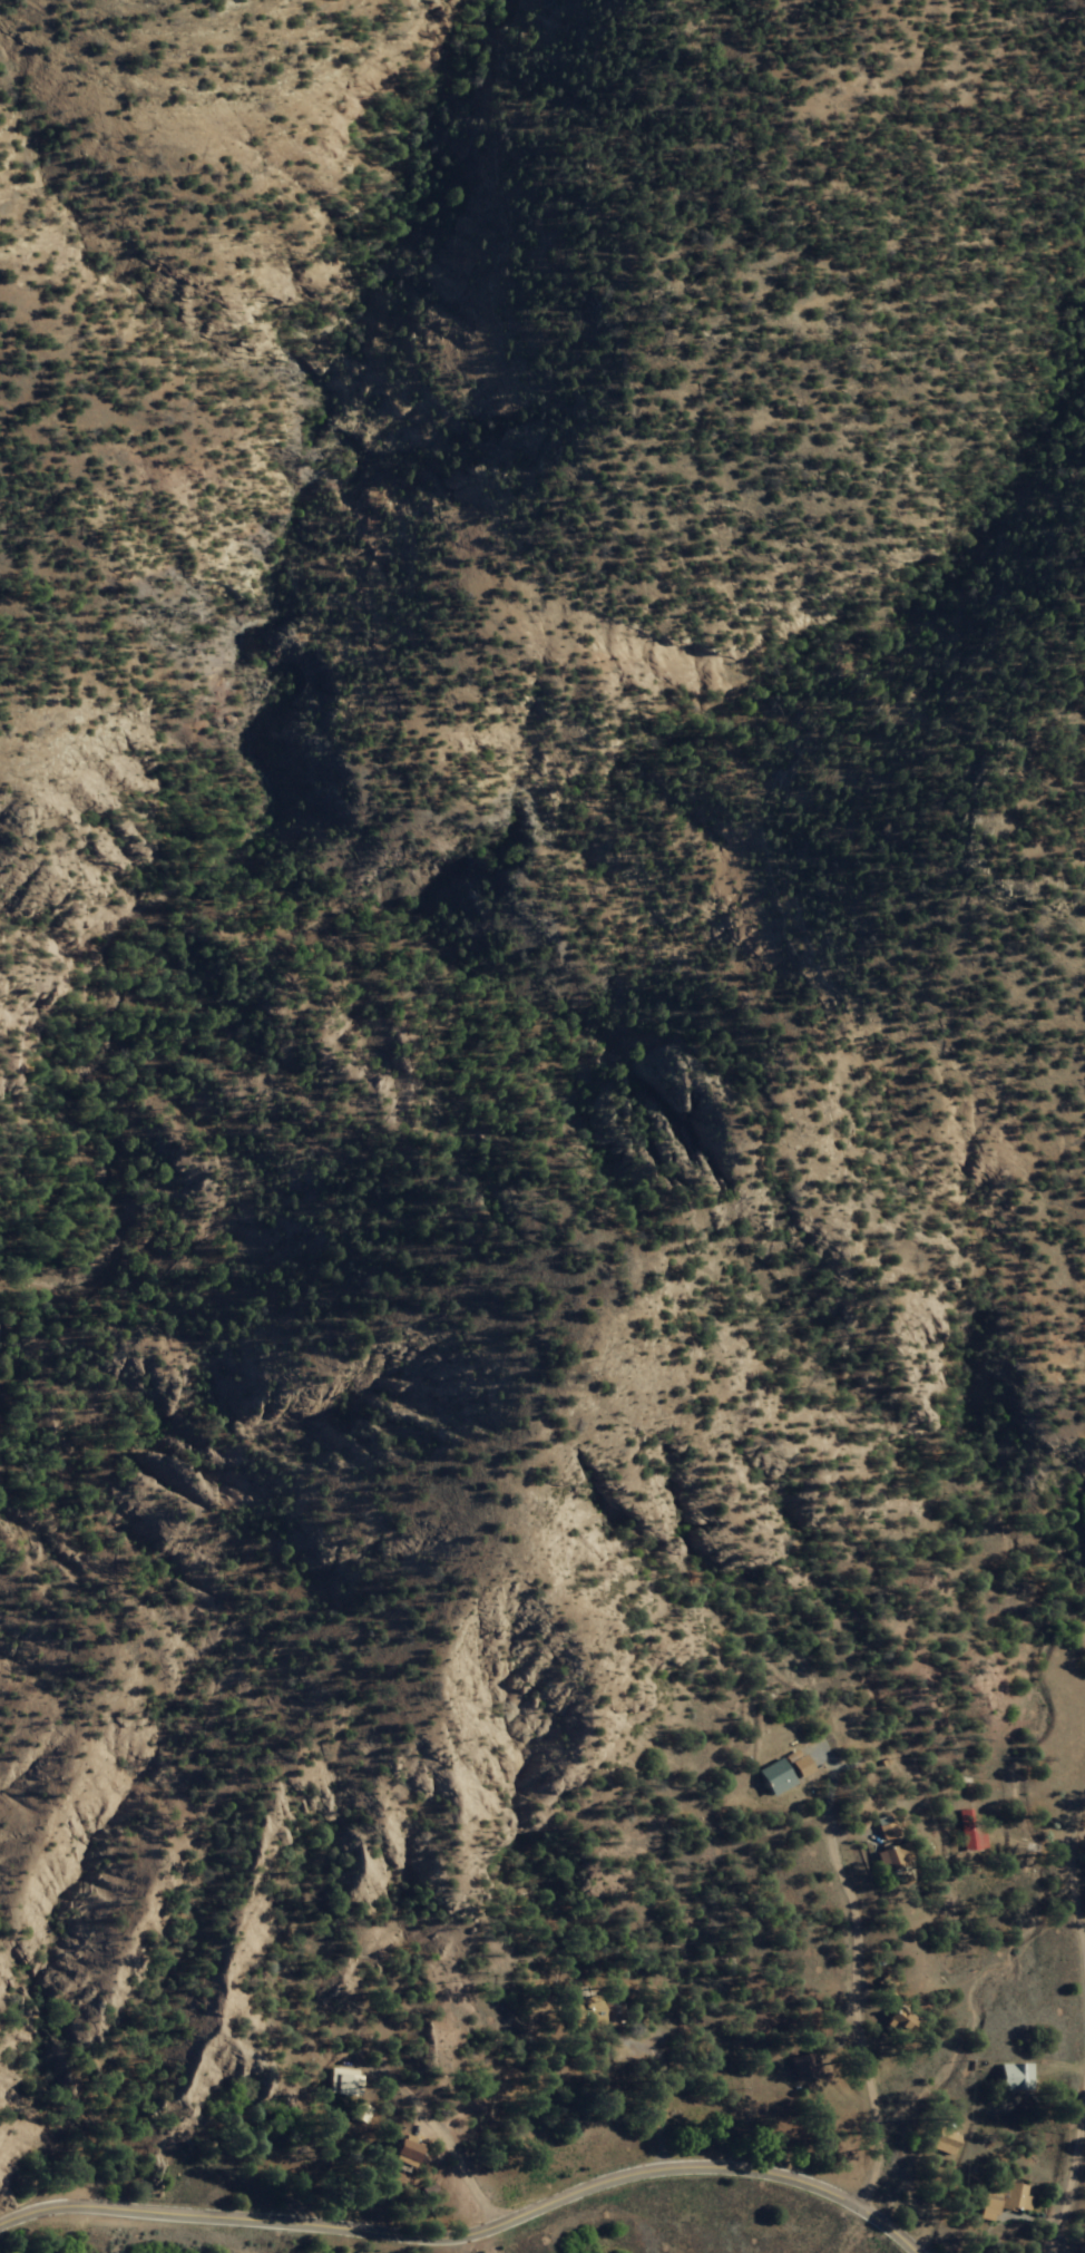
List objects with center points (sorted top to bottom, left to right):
building: (781, 1773)
building: (964, 1832)
road: (1038, 1833)
building: (892, 1859)
road: (1078, 1883)
road: (852, 1997)
building: (800, 2067)
building: (1014, 2079)
road: (1016, 2083)
building: (341, 2084)
road: (45, 2099)
building: (358, 2115)
road: (439, 2134)
road: (893, 2174)
road: (1072, 2183)
building: (1008, 2200)
road: (467, 2242)
road: (491, 2243)

